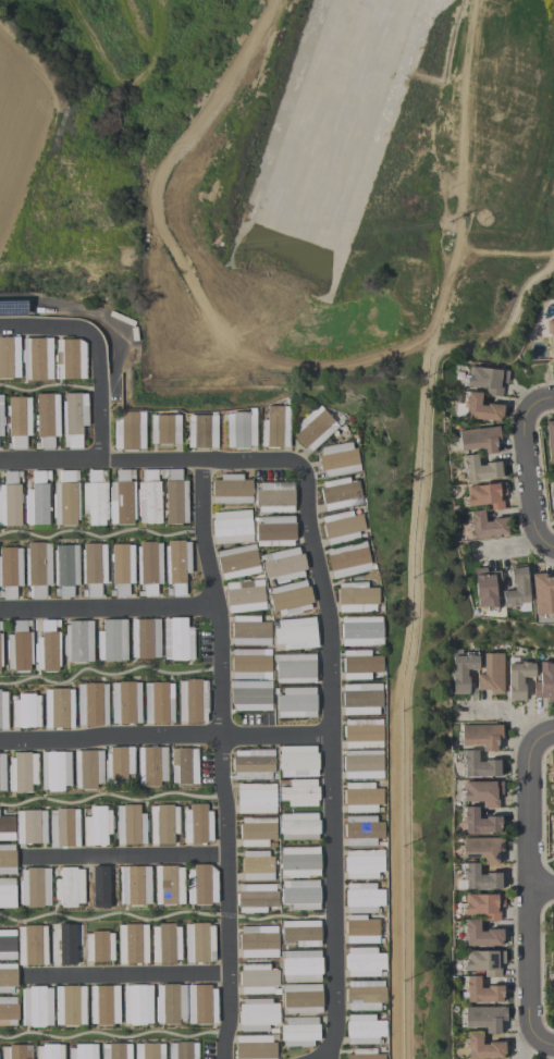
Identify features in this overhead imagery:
crop: (19, 134)
road: (464, 176)
road: (183, 257)
building: (12, 307)
building: (549, 327)
road: (47, 328)
building: (552, 350)
building: (9, 358)
building: (37, 359)
building: (70, 359)
building: (487, 380)
road: (99, 397)
road: (538, 403)
building: (478, 408)
building: (1, 416)
building: (47, 419)
building: (74, 419)
building: (19, 421)
building: (275, 427)
building: (315, 428)
building: (164, 429)
building: (239, 430)
building: (130, 431)
building: (200, 432)
building: (479, 440)
building: (550, 440)
building: (338, 459)
road: (151, 460)
building: (480, 469)
road: (527, 480)
building: (232, 490)
building: (340, 494)
building: (553, 494)
building: (485, 496)
building: (149, 497)
building: (175, 497)
building: (275, 497)
building: (65, 498)
building: (95, 498)
building: (121, 500)
building: (10, 501)
building: (36, 501)
building: (485, 526)
building: (232, 527)
building: (342, 527)
building: (275, 531)
road: (100, 540)
road: (549, 547)
building: (348, 559)
building: (237, 562)
building: (176, 565)
building: (284, 565)
building: (149, 567)
building: (94, 568)
building: (122, 568)
building: (37, 569)
building: (65, 569)
building: (10, 571)
building: (515, 588)
building: (484, 589)
building: (542, 595)
building: (245, 596)
building: (291, 598)
building: (357, 598)
road: (108, 611)
road: (413, 615)
building: (250, 631)
building: (361, 631)
building: (296, 633)
building: (145, 639)
building: (177, 640)
building: (111, 641)
building: (77, 642)
building: (19, 648)
building: (47, 649)
building: (0, 652)
building: (250, 664)
building: (360, 665)
building: (295, 669)
building: (460, 673)
building: (491, 674)
road: (108, 676)
building: (517, 680)
building: (544, 682)
building: (250, 695)
building: (361, 699)
building: (193, 701)
building: (158, 702)
building: (125, 703)
building: (296, 703)
building: (91, 704)
building: (58, 709)
building: (3, 711)
building: (25, 711)
building: (362, 734)
building: (479, 737)
road: (542, 738)
road: (165, 739)
road: (223, 759)
road: (332, 760)
building: (297, 762)
building: (253, 764)
building: (362, 764)
building: (553, 764)
building: (119, 766)
building: (151, 766)
building: (184, 766)
building: (478, 766)
building: (88, 769)
building: (56, 771)
building: (2, 773)
building: (22, 773)
building: (300, 792)
building: (480, 793)
building: (361, 798)
building: (256, 799)
building: (477, 823)
building: (163, 824)
building: (197, 824)
building: (131, 825)
building: (30, 826)
building: (97, 826)
building: (299, 826)
building: (7, 828)
building: (64, 828)
building: (362, 830)
building: (257, 832)
building: (553, 845)
building: (480, 850)
building: (7, 859)
road: (125, 859)
building: (299, 862)
building: (364, 864)
building: (257, 865)
building: (479, 879)
building: (135, 885)
building: (169, 885)
building: (201, 885)
building: (35, 887)
building: (70, 887)
building: (101, 887)
road: (541, 890)
road: (528, 891)
building: (7, 892)
building: (300, 895)
building: (256, 898)
building: (362, 898)
building: (482, 907)
building: (360, 929)
building: (553, 931)
building: (301, 933)
building: (478, 936)
building: (258, 941)
building: (65, 943)
building: (199, 943)
building: (133, 944)
building: (165, 944)
building: (8, 945)
building: (33, 945)
building: (99, 947)
building: (364, 962)
building: (482, 963)
building: (301, 965)
building: (8, 977)
road: (127, 978)
building: (257, 978)
building: (478, 993)
building: (365, 995)
building: (301, 999)
building: (170, 1003)
building: (103, 1005)
building: (137, 1005)
building: (201, 1005)
building: (36, 1006)
building: (70, 1006)
building: (8, 1011)
building: (257, 1014)
building: (483, 1019)
building: (365, 1030)
building: (299, 1032)
road: (543, 1044)
building: (255, 1047)
building: (480, 1048)
building: (149, 1050)
building: (183, 1050)
building: (16, 1051)
building: (49, 1051)
building: (83, 1051)
building: (115, 1051)
building: (364, 1054)

